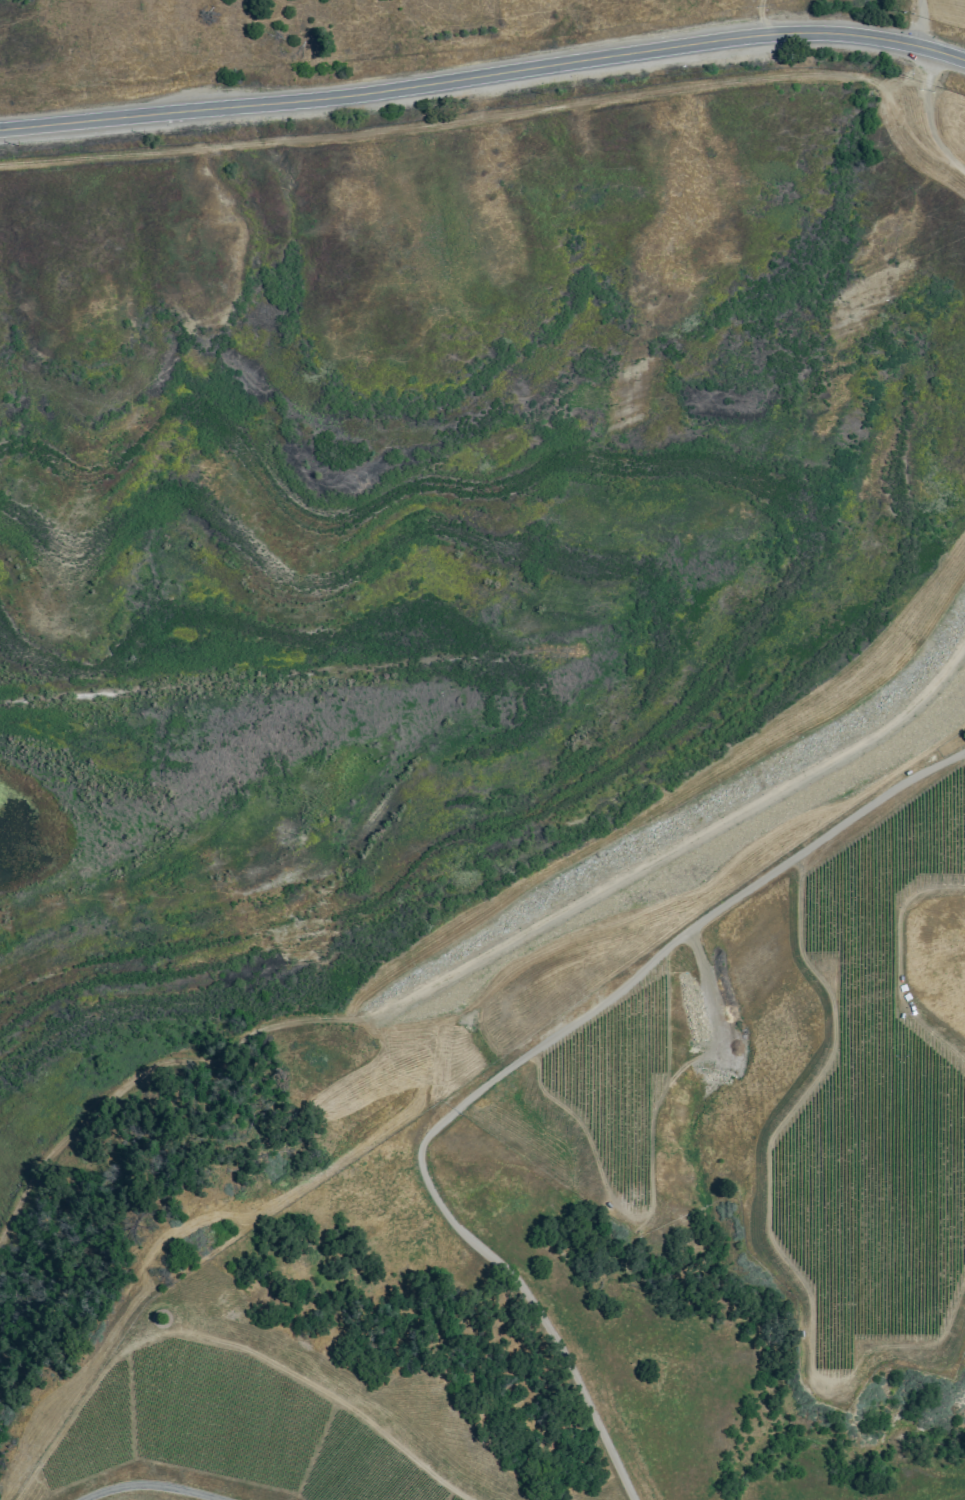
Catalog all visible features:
road: (762, 19)
road: (921, 25)
road: (483, 80)
road: (501, 112)
road: (926, 116)
road: (963, 171)
dam: (684, 839)
road: (477, 959)
road: (498, 1063)
road: (152, 1486)

